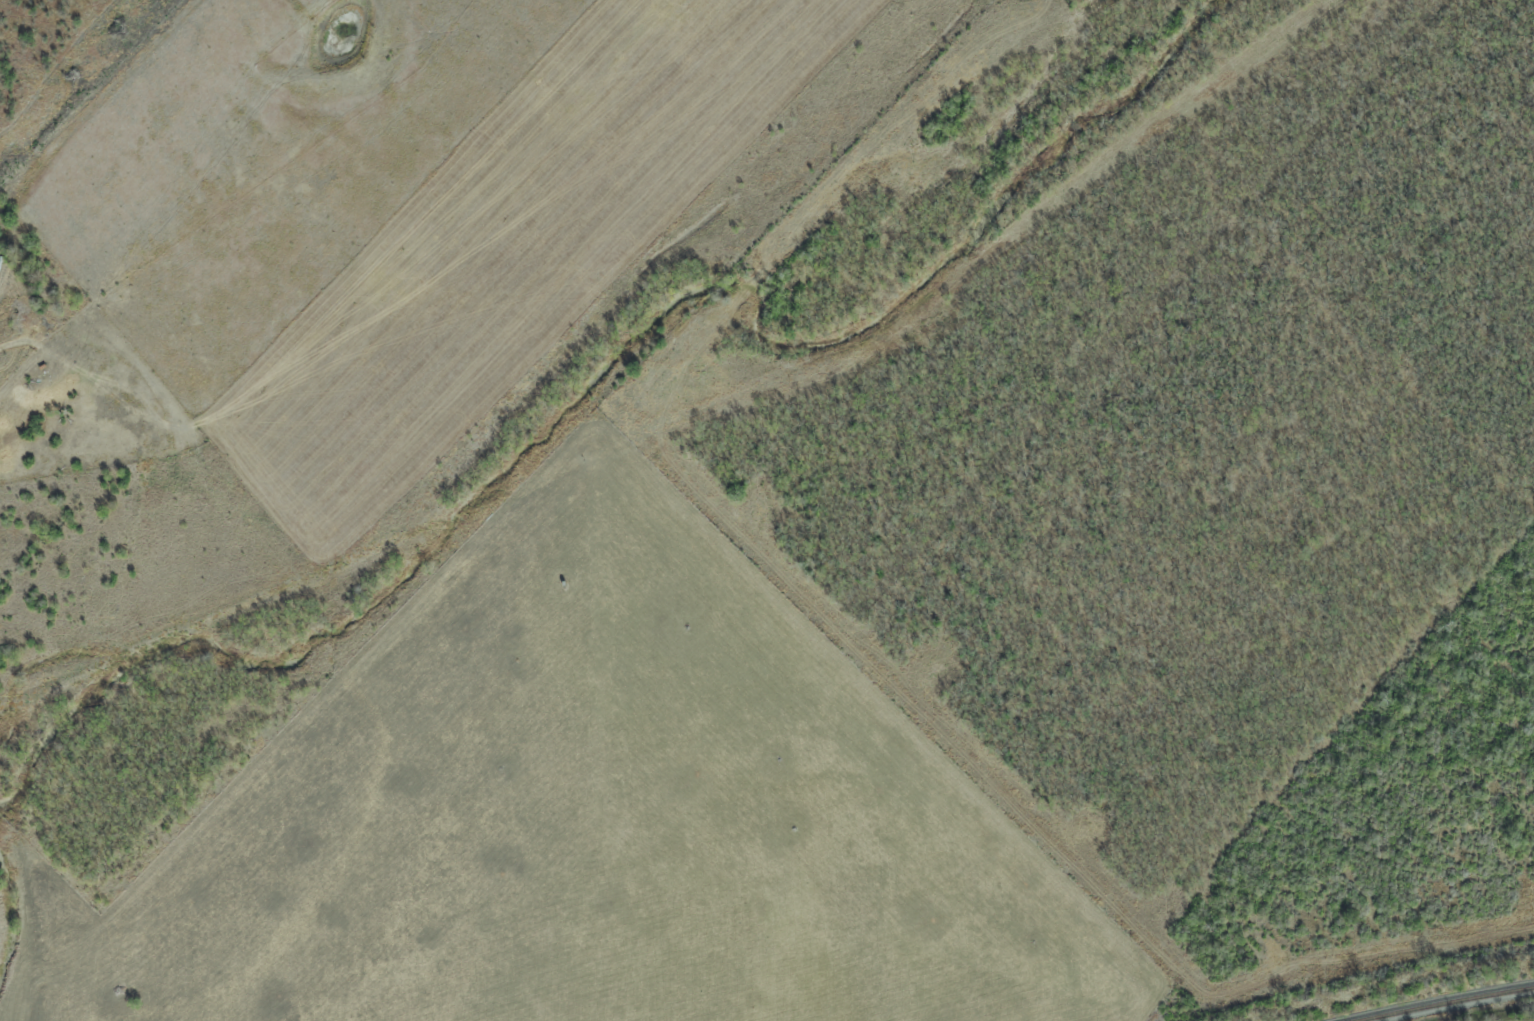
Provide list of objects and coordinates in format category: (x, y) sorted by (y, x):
railway: (1446, 1003)

